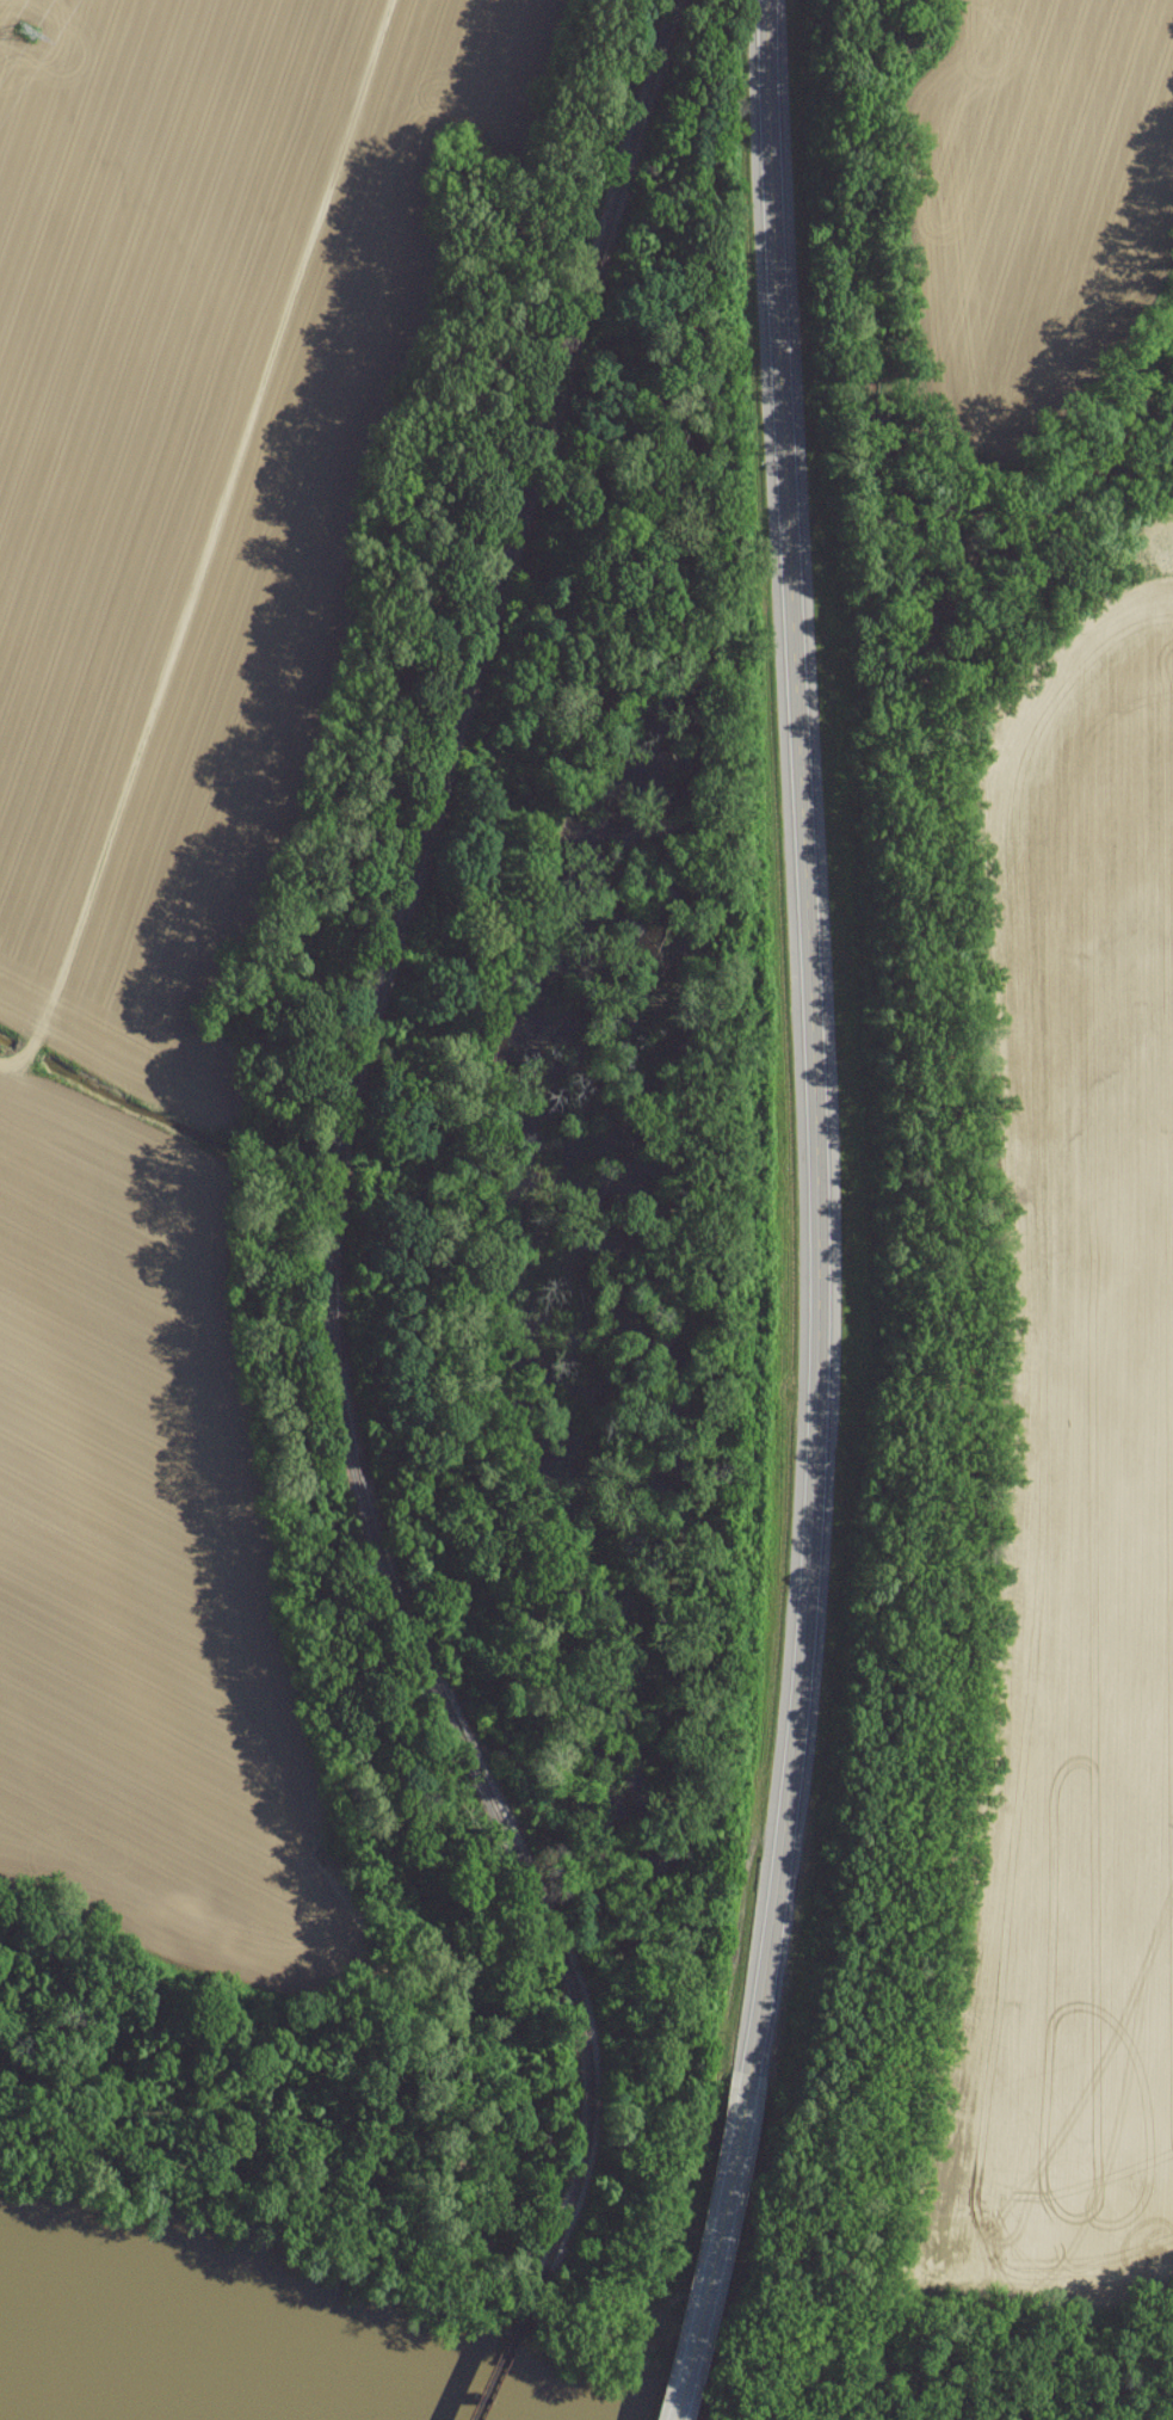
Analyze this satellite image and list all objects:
power tower: (30, 43)
road: (210, 535)
road: (816, 1024)
road: (10, 1067)
railway: (348, 1141)
road: (716, 2234)
railway: (510, 2346)
river: (140, 2370)

